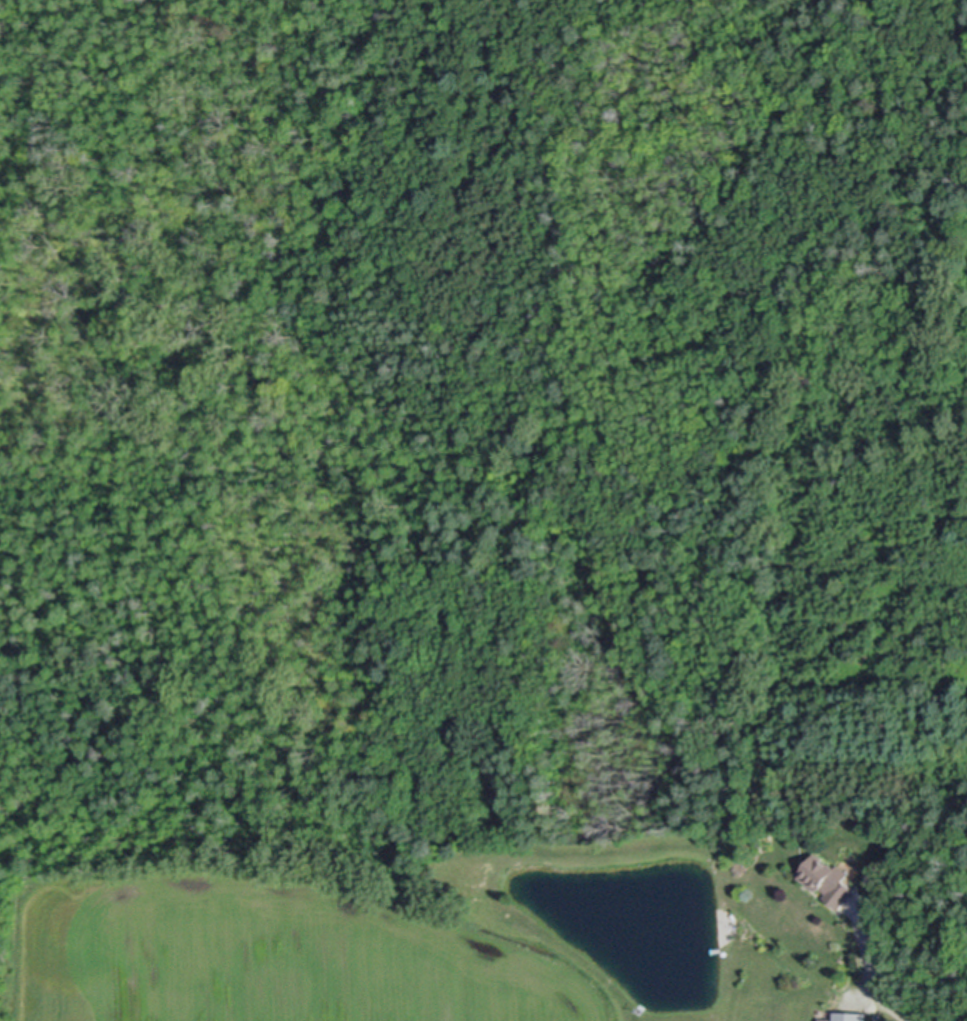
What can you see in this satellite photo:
building: (826, 879)
road: (869, 989)
building: (848, 1015)
road: (958, 1018)

